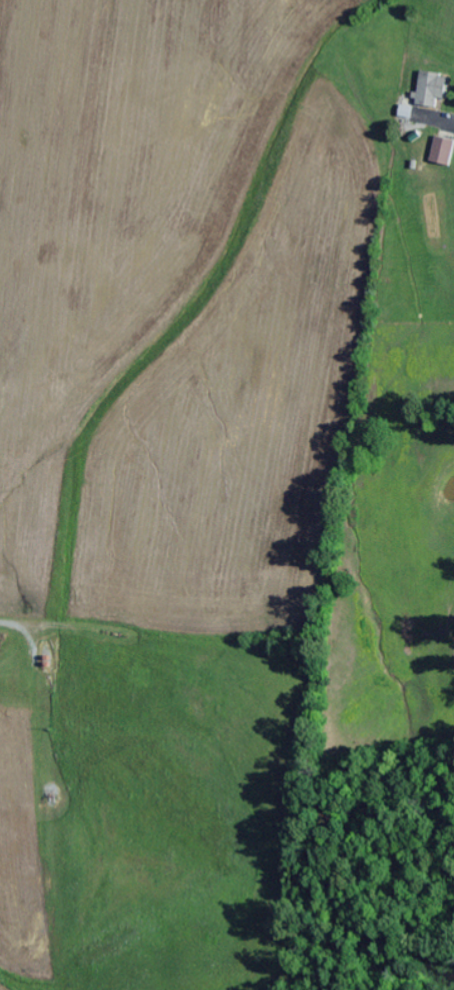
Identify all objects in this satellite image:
building: (432, 92)
building: (442, 153)

